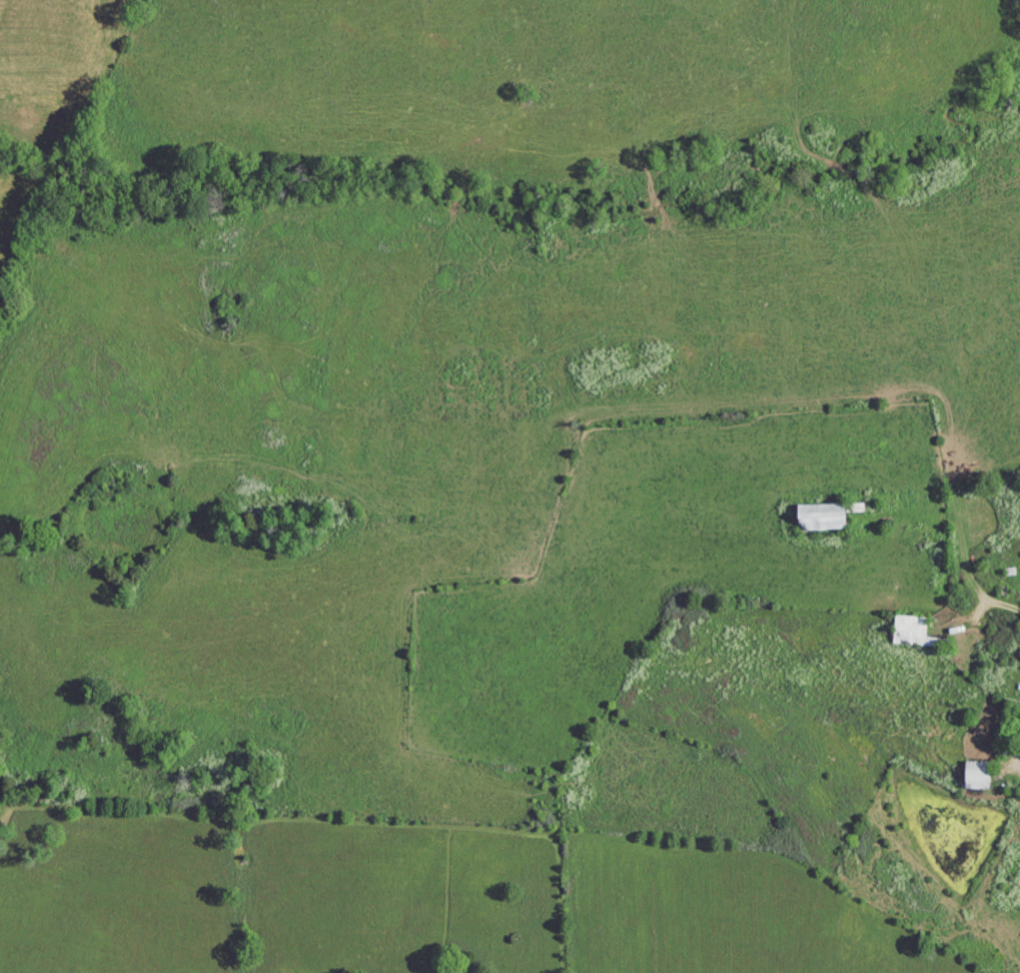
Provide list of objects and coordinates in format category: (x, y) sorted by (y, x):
building: (831, 517)
road: (967, 533)
building: (918, 632)
building: (985, 776)

